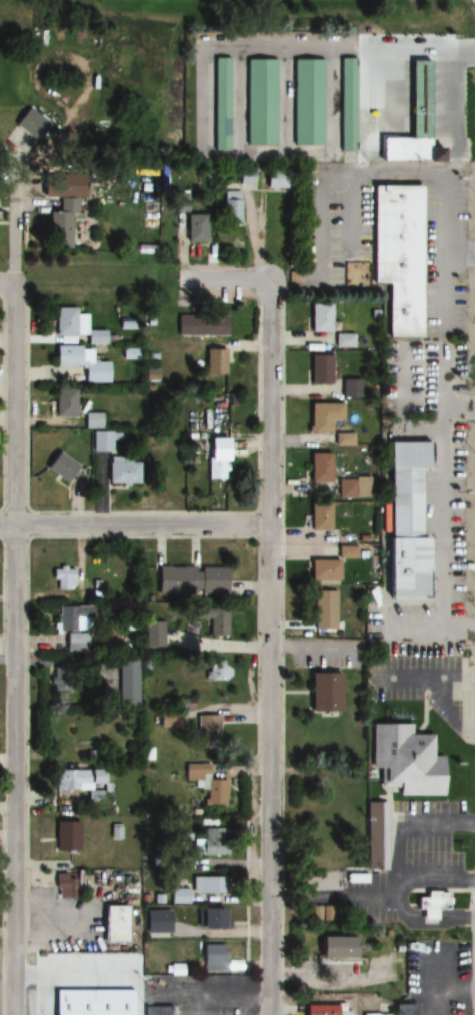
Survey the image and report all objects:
road: (474, 1)
road: (394, 52)
building: (260, 102)
building: (307, 102)
building: (221, 104)
building: (346, 104)
building: (418, 116)
building: (30, 124)
building: (275, 179)
building: (230, 205)
building: (59, 224)
road: (11, 240)
road: (458, 250)
building: (396, 255)
road: (228, 281)
road: (6, 282)
road: (441, 302)
building: (319, 317)
building: (201, 324)
building: (74, 325)
building: (342, 340)
building: (215, 358)
building: (81, 362)
building: (319, 368)
building: (349, 388)
building: (64, 403)
road: (459, 410)
building: (323, 417)
building: (92, 420)
building: (100, 441)
building: (217, 451)
building: (60, 467)
building: (319, 468)
building: (122, 471)
building: (319, 518)
road: (442, 520)
building: (403, 522)
road: (135, 525)
building: (323, 570)
building: (62, 579)
building: (174, 581)
building: (210, 581)
building: (324, 607)
building: (213, 621)
building: (71, 626)
road: (431, 629)
building: (153, 634)
road: (271, 647)
road: (15, 648)
building: (217, 670)
building: (127, 682)
building: (324, 692)
building: (168, 720)
building: (207, 728)
building: (75, 752)
building: (404, 760)
building: (75, 779)
building: (215, 793)
building: (66, 836)
building: (377, 837)
building: (213, 841)
building: (68, 883)
building: (208, 885)
building: (431, 905)
building: (118, 917)
building: (210, 919)
building: (158, 922)
road: (471, 943)
building: (334, 948)
road: (281, 953)
building: (213, 958)
building: (126, 1006)
building: (318, 1010)
building: (156, 1011)
building: (375, 1014)

